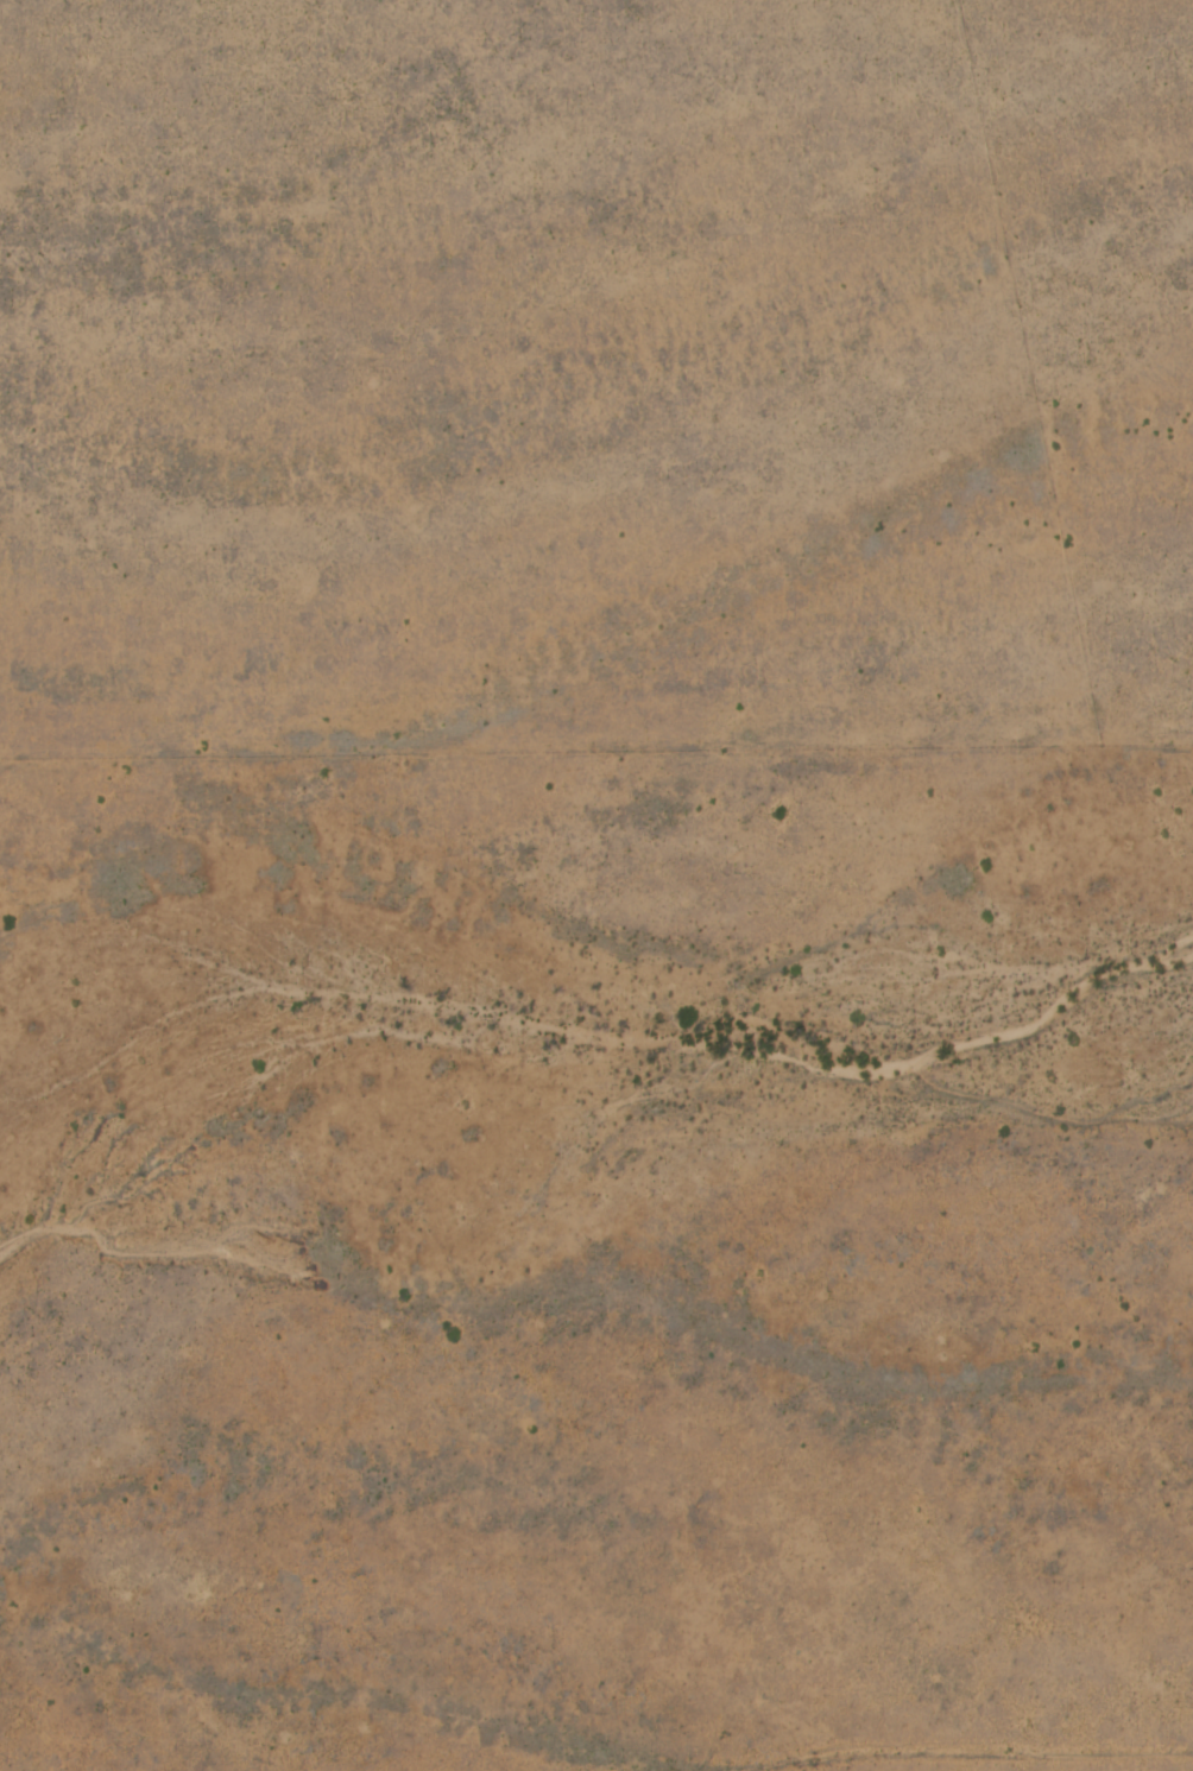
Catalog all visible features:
road: (705, 1712)

